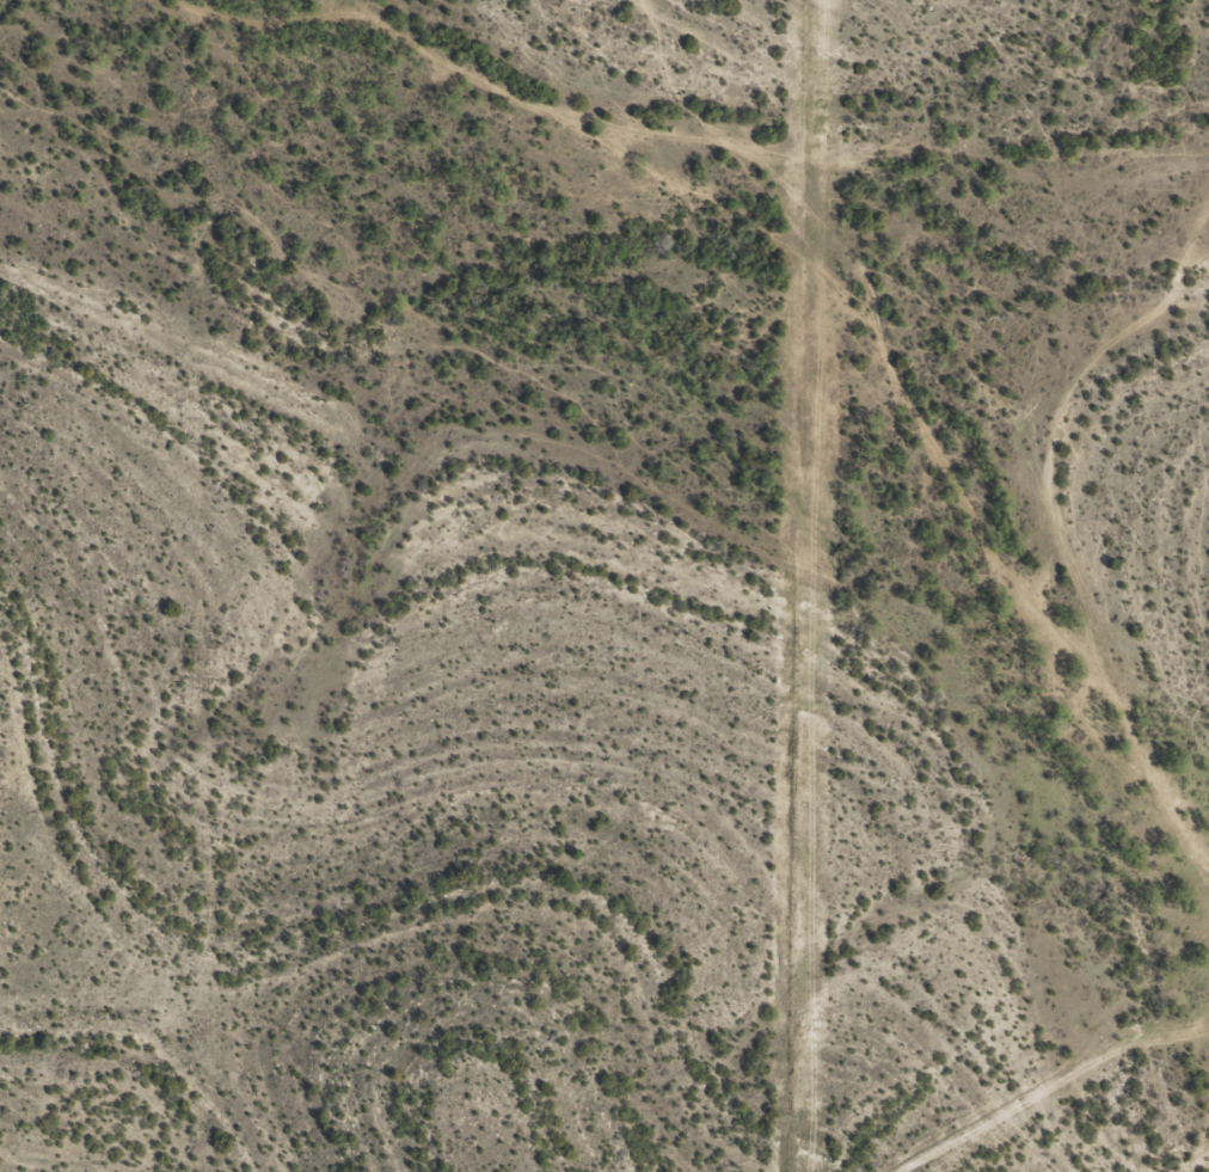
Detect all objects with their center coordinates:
road: (946, 1063)

